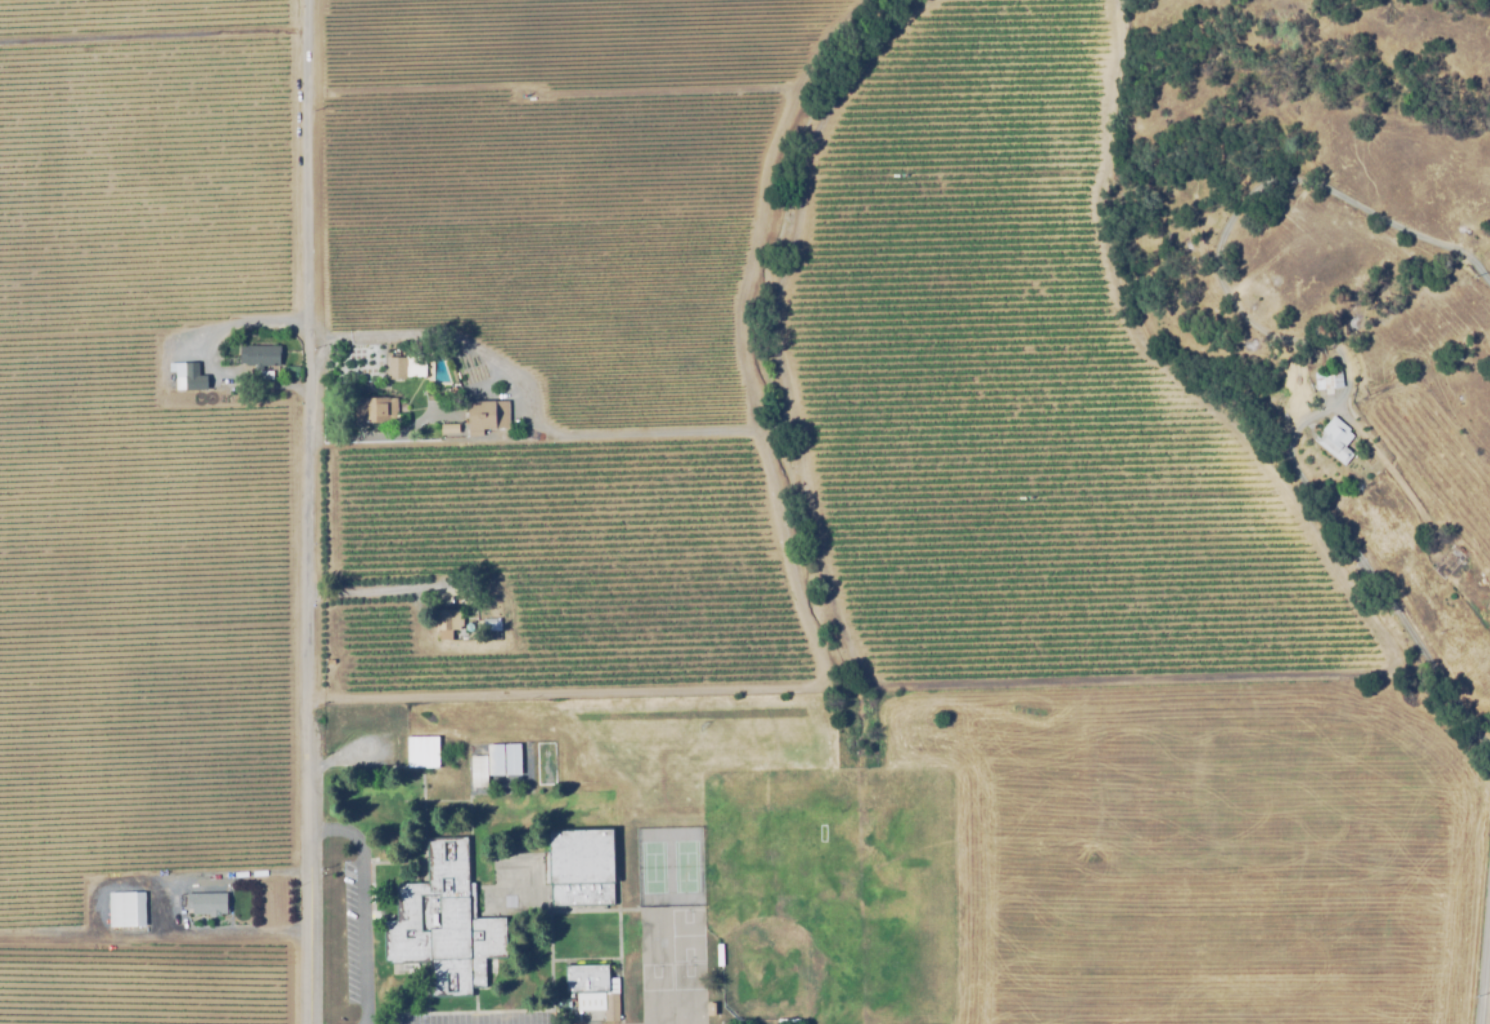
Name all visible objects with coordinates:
road: (155, 33)
road: (437, 335)
road: (200, 354)
building: (259, 358)
building: (408, 368)
building: (292, 371)
building: (266, 377)
building: (189, 378)
building: (1328, 381)
building: (375, 411)
building: (487, 418)
building: (450, 430)
building: (1335, 441)
road: (307, 512)
road: (1357, 540)
building: (1451, 564)
building: (473, 589)
road: (378, 590)
building: (492, 626)
building: (449, 627)
building: (423, 754)
building: (513, 761)
building: (496, 762)
building: (479, 773)
park: (667, 866)
building: (580, 869)
road: (213, 875)
park: (829, 898)
building: (205, 903)
road: (363, 905)
building: (133, 909)
building: (434, 919)
road: (237, 934)
road: (80, 938)
building: (720, 956)
road: (1486, 987)
building: (596, 992)
building: (711, 1010)
building: (789, 1022)

